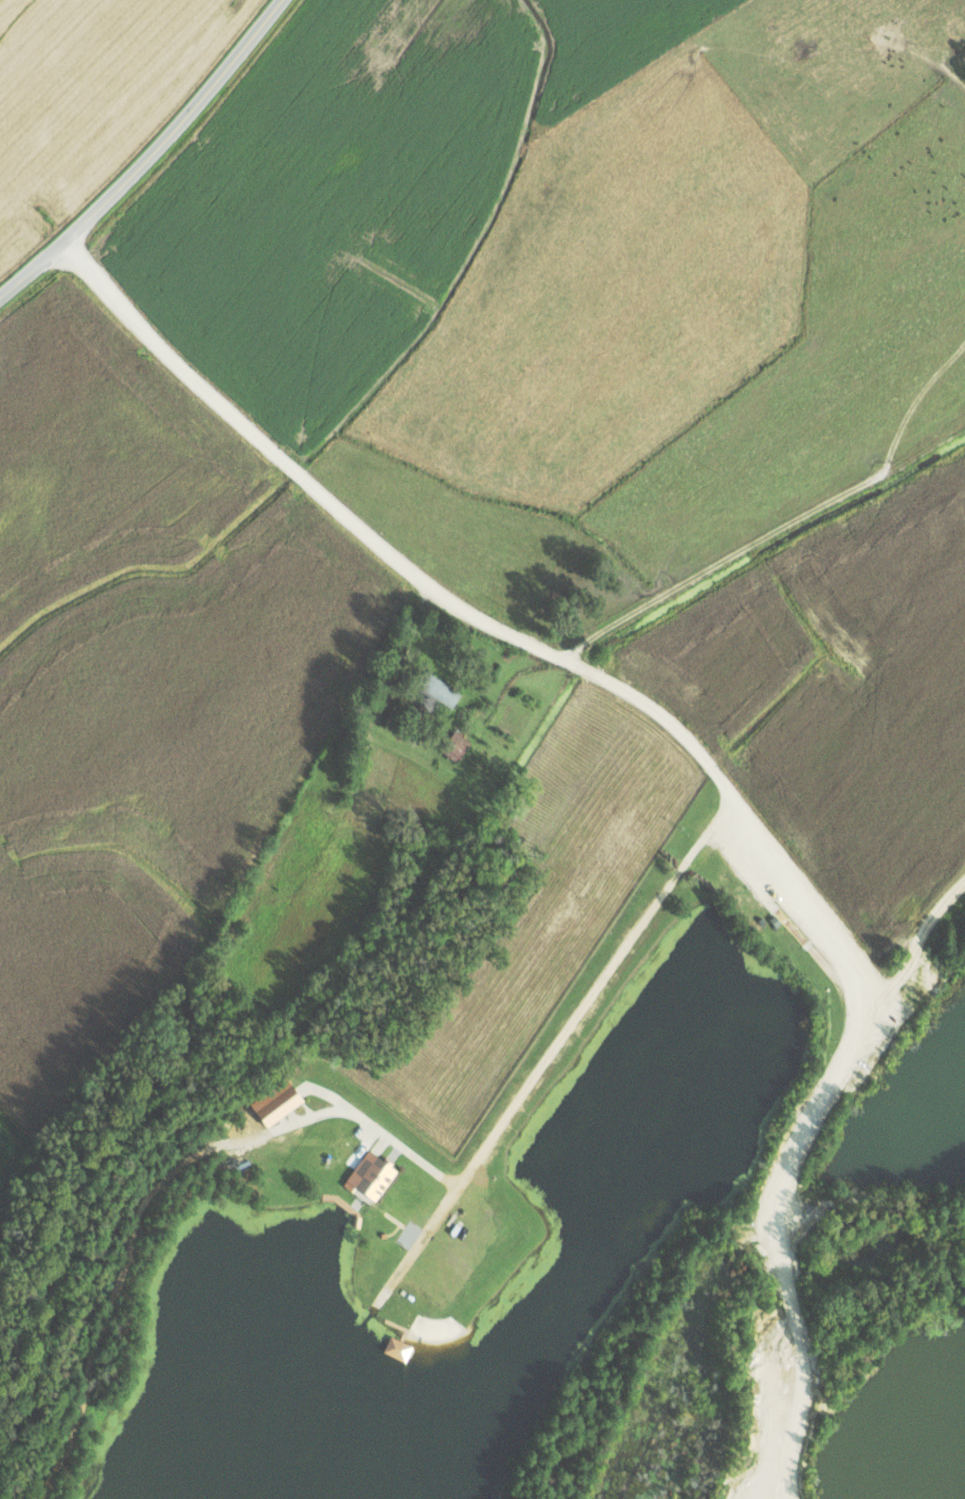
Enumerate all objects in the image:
road: (150, 158)
road: (513, 636)
building: (437, 689)
building: (456, 746)
road: (576, 1015)
building: (278, 1105)
road: (353, 1115)
building: (369, 1175)
building: (397, 1348)

